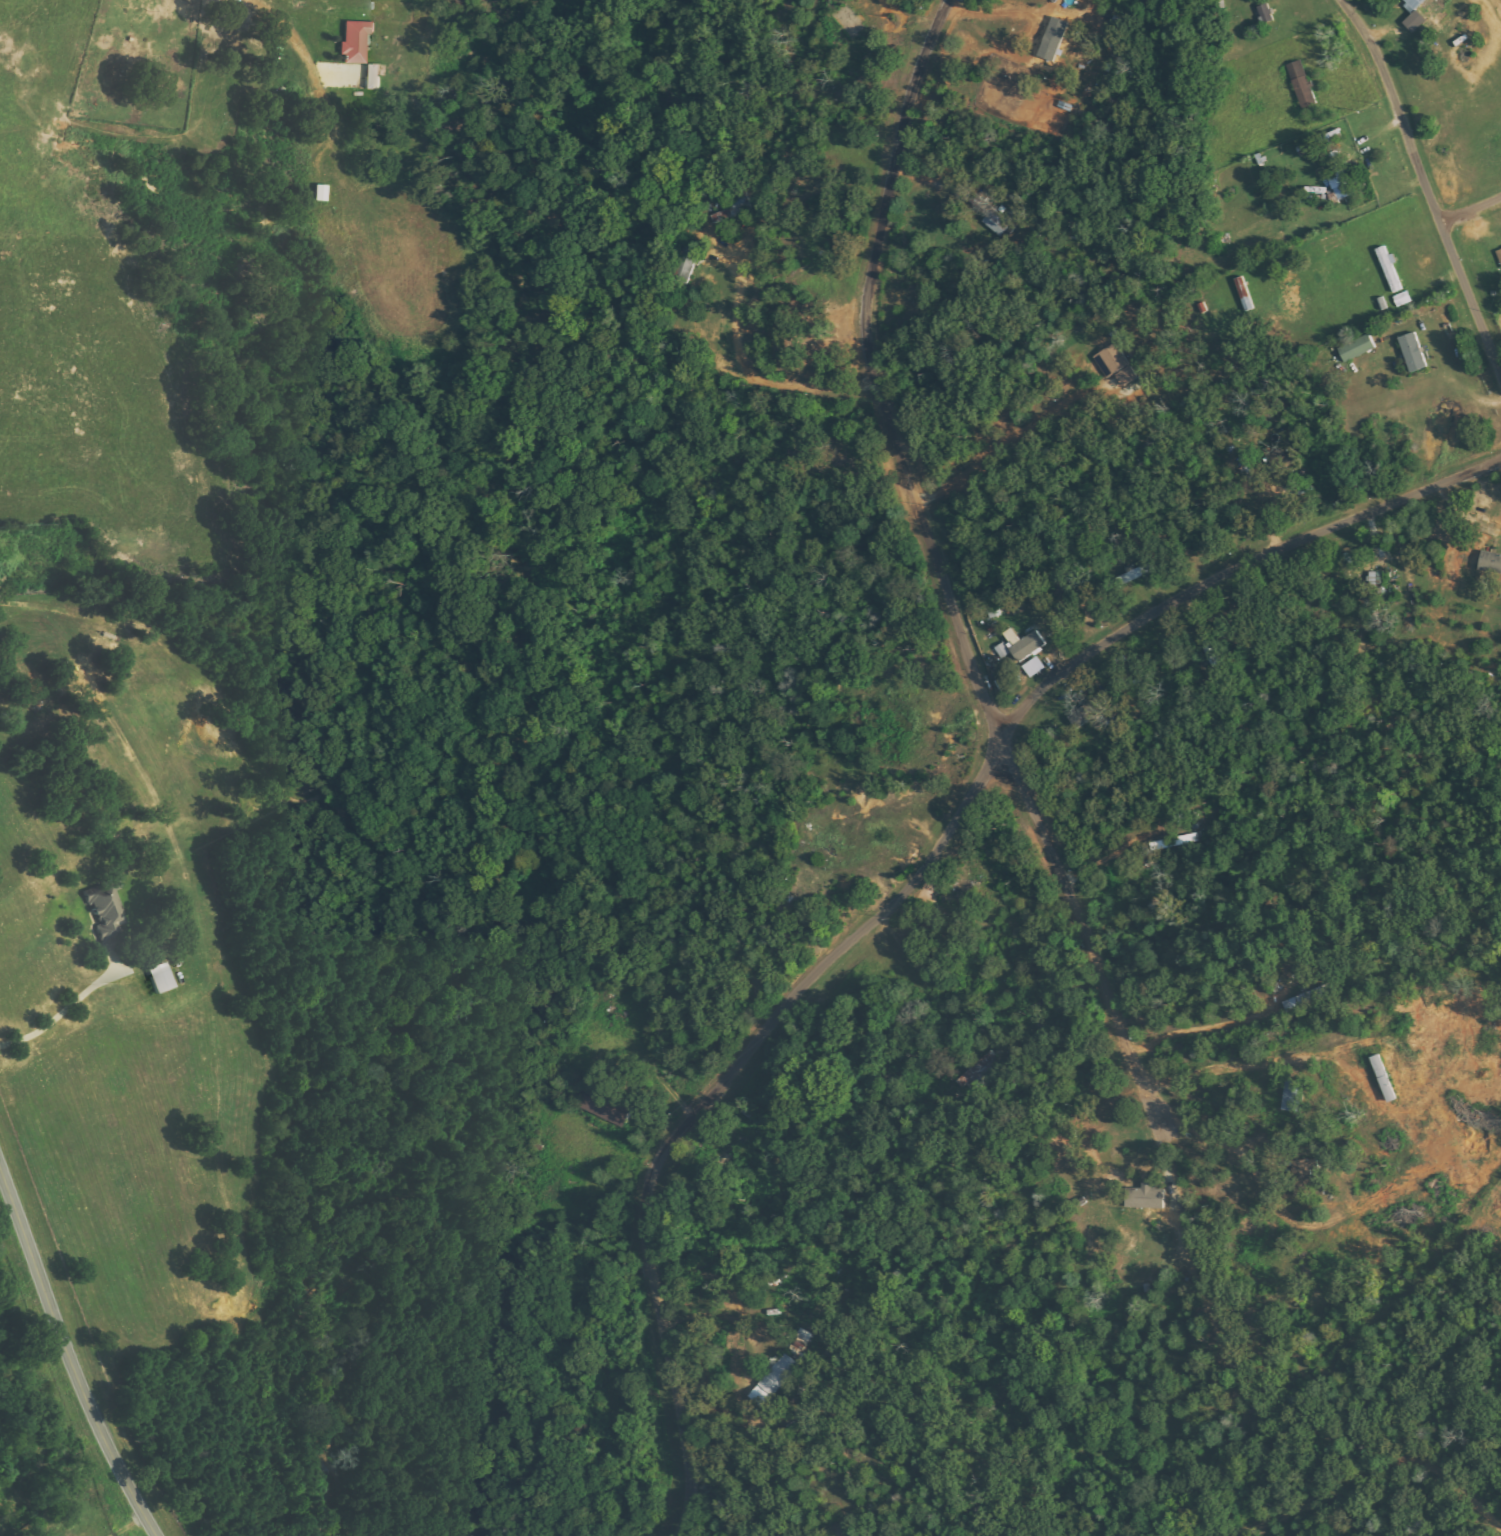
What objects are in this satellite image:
building: (1414, 4)
building: (1416, 21)
building: (1114, 34)
building: (357, 40)
building: (1053, 45)
building: (374, 76)
building: (1303, 83)
road: (1394, 109)
building: (1340, 177)
road: (1496, 199)
road: (1466, 214)
building: (991, 216)
building: (1500, 252)
building: (686, 260)
building: (1390, 268)
building: (1246, 294)
road: (1469, 299)
building: (1359, 348)
building: (1415, 352)
building: (1116, 364)
road: (873, 372)
road: (1499, 375)
road: (1452, 478)
road: (1319, 530)
building: (1491, 562)
building: (1136, 573)
road: (1157, 609)
building: (1026, 644)
building: (1003, 651)
building: (1035, 667)
road: (1061, 674)
road: (1018, 712)
building: (1089, 713)
building: (108, 915)
road: (1079, 925)
building: (161, 977)
building: (1294, 1003)
building: (1295, 1096)
road: (710, 1097)
building: (1149, 1197)
building: (800, 1344)
road: (72, 1351)
building: (773, 1381)

